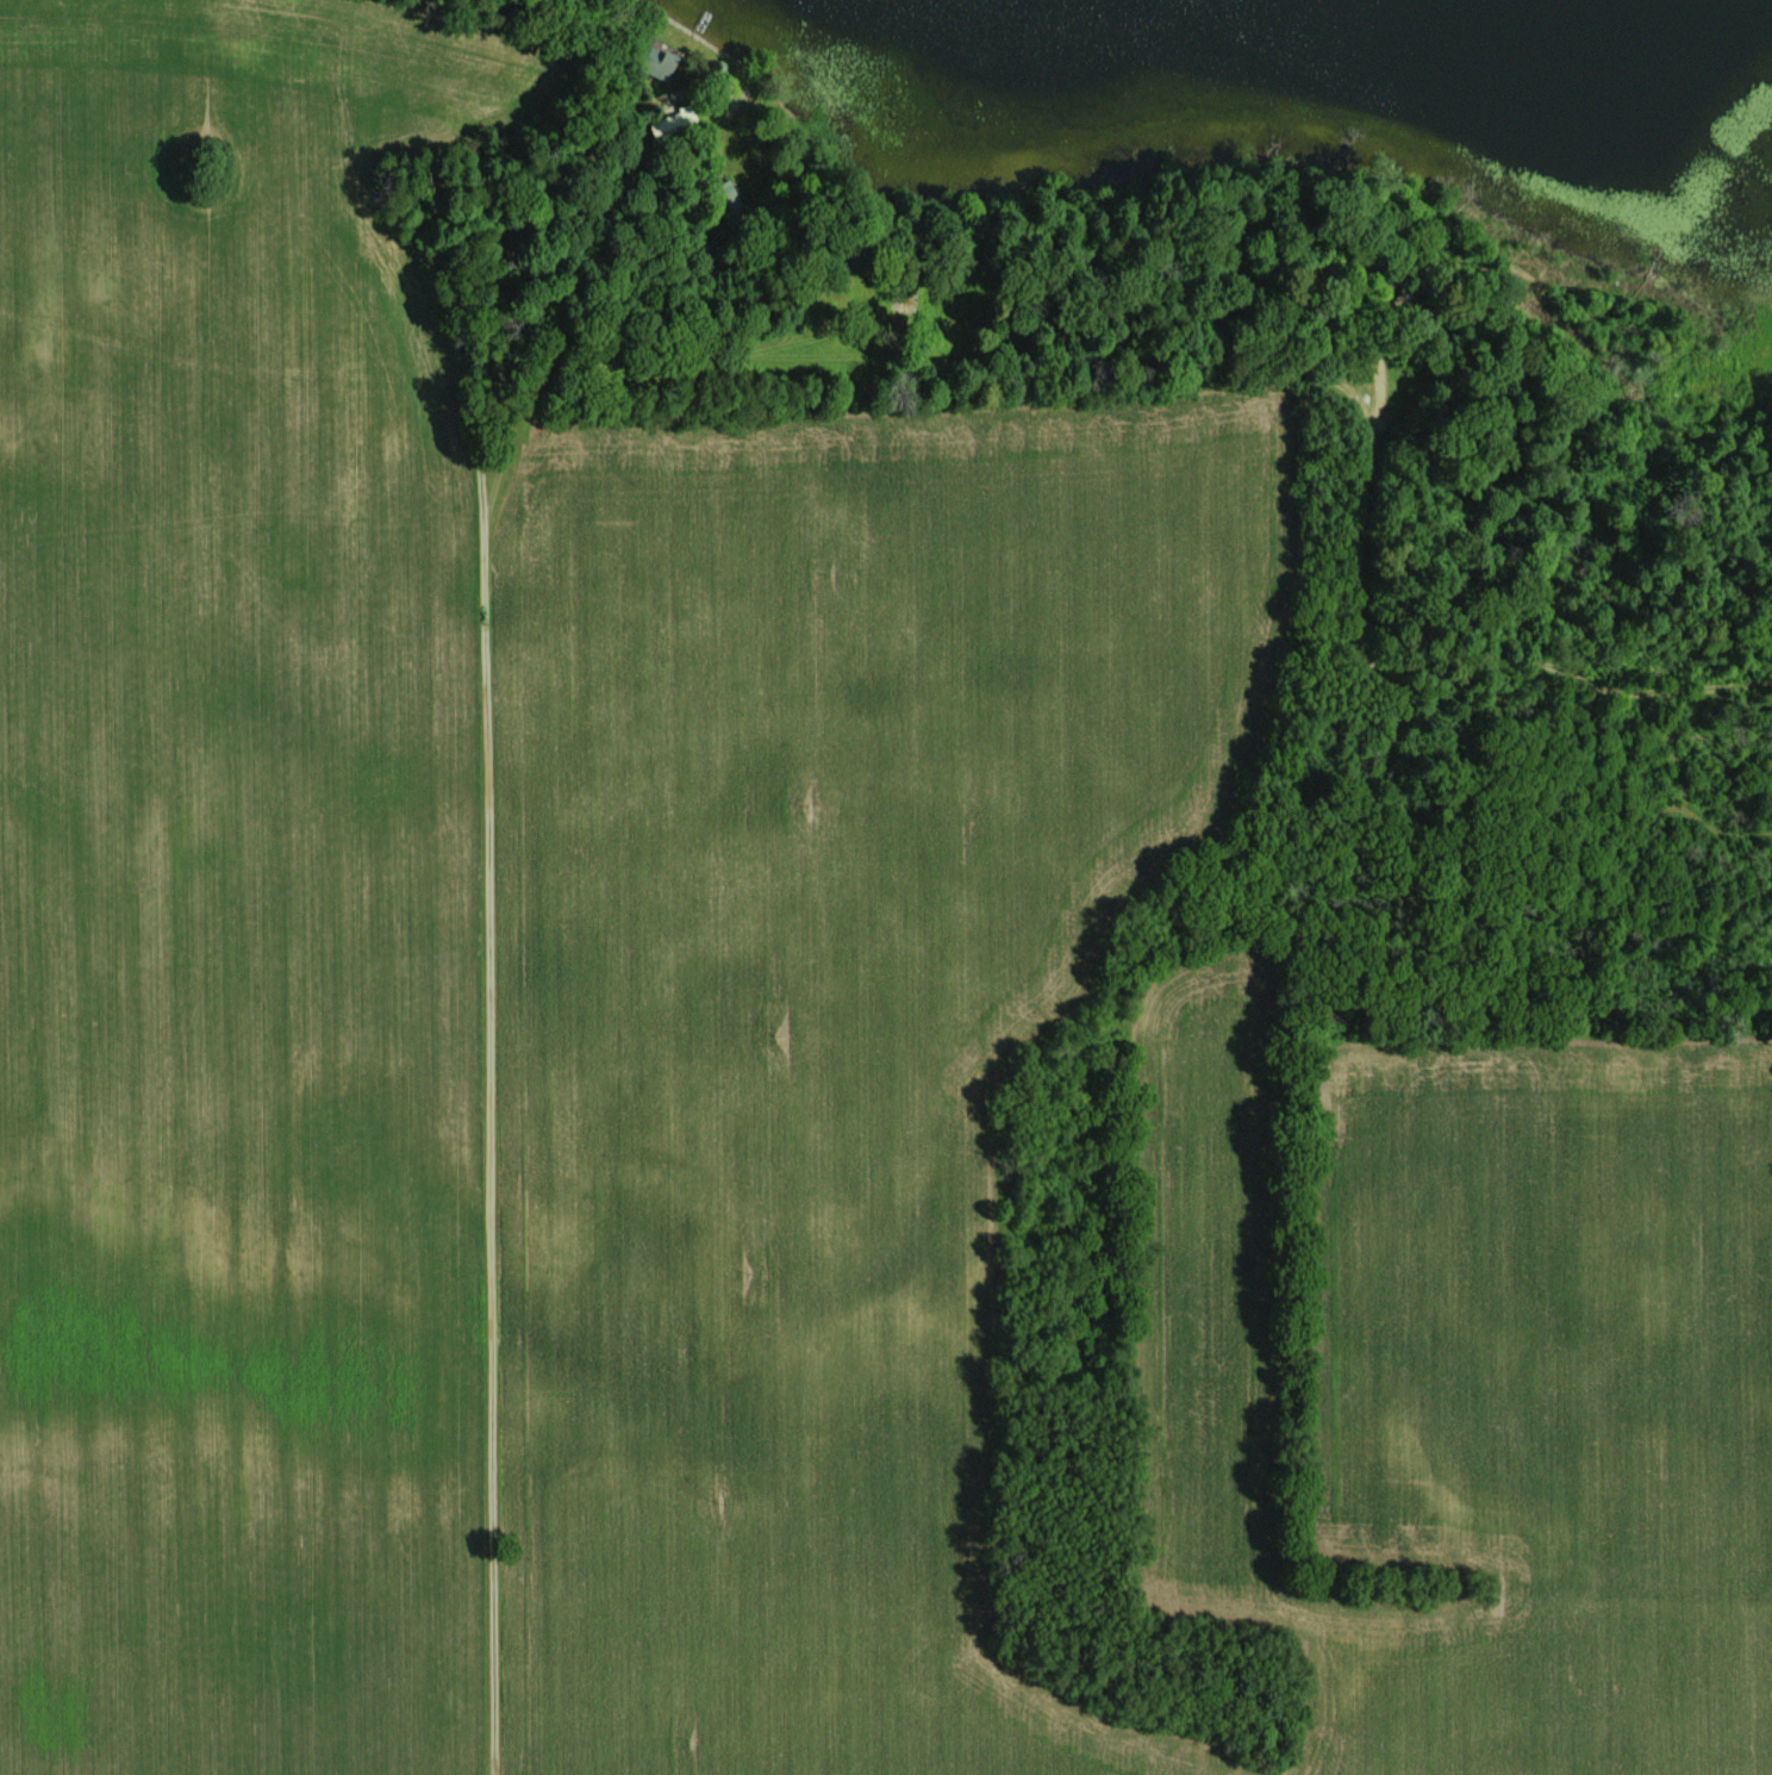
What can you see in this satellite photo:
building: (655, 62)
building: (673, 124)
building: (726, 200)
building: (862, 249)
building: (904, 301)
road: (632, 348)
road: (506, 898)

